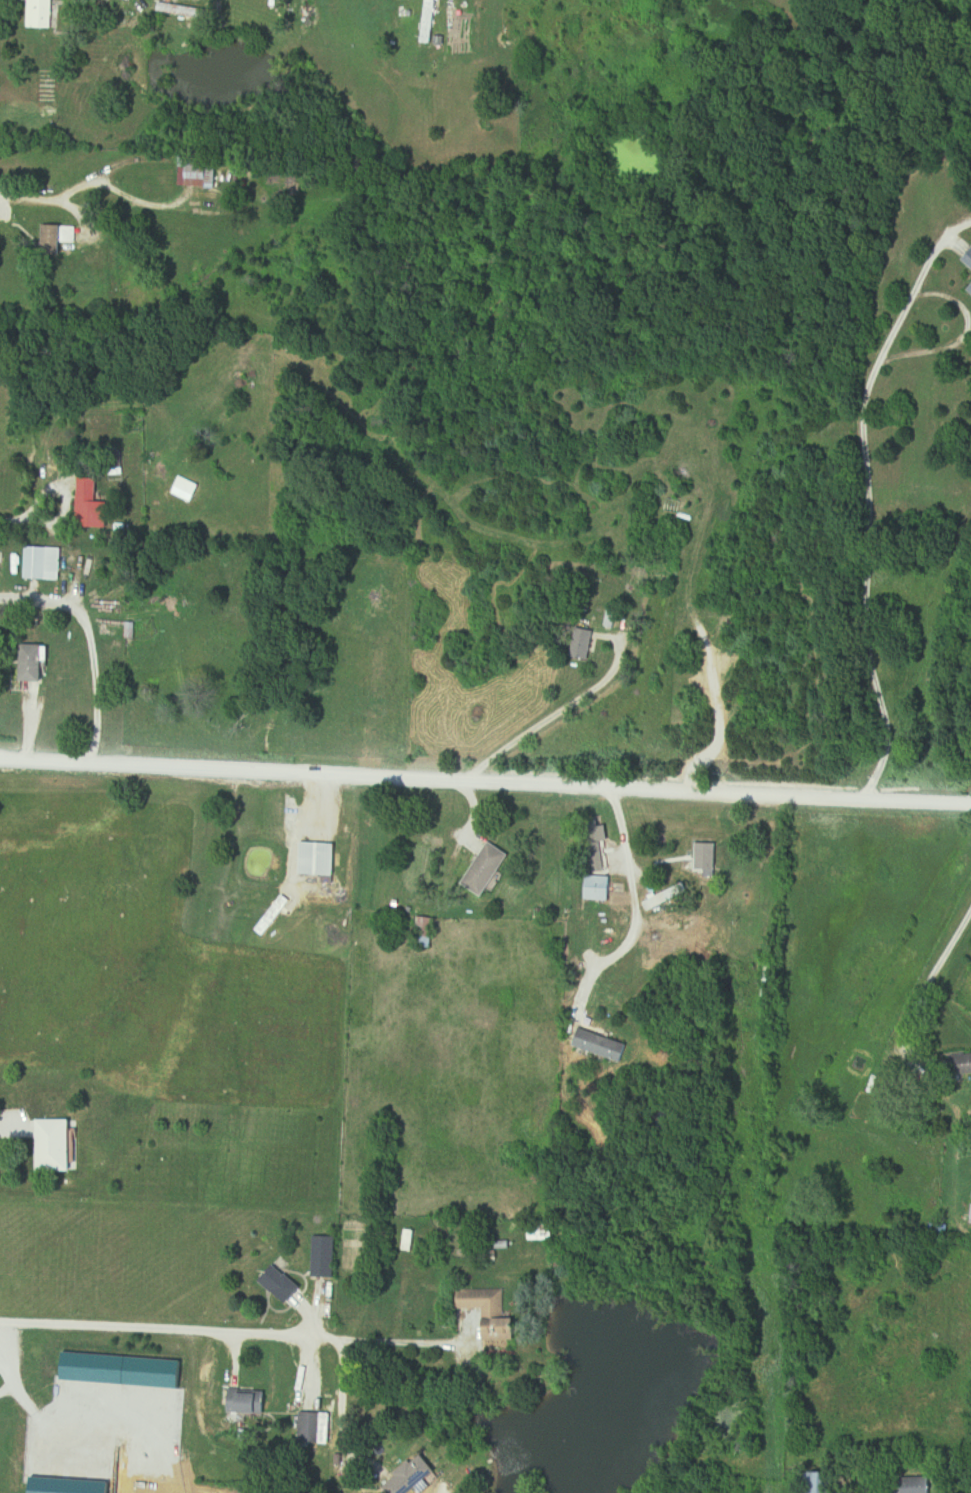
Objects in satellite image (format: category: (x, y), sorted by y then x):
building: (43, 13)
building: (429, 21)
building: (50, 86)
building: (26, 98)
building: (200, 171)
building: (59, 237)
building: (967, 287)
road: (960, 337)
building: (188, 489)
road: (866, 498)
building: (93, 505)
road: (27, 523)
building: (44, 563)
building: (611, 618)
building: (590, 644)
road: (98, 645)
building: (36, 662)
road: (552, 718)
road: (485, 784)
building: (319, 859)
building: (708, 860)
building: (487, 865)
building: (600, 888)
road: (262, 900)
road: (634, 920)
building: (426, 932)
building: (770, 978)
building: (603, 1045)
road: (882, 1077)
road: (16, 1133)
building: (61, 1145)
building: (940, 1231)
building: (544, 1232)
building: (409, 1240)
building: (327, 1256)
building: (282, 1283)
building: (493, 1313)
road: (241, 1339)
building: (252, 1403)
road: (341, 1414)
building: (318, 1428)
building: (414, 1476)
building: (819, 1482)
building: (920, 1485)

